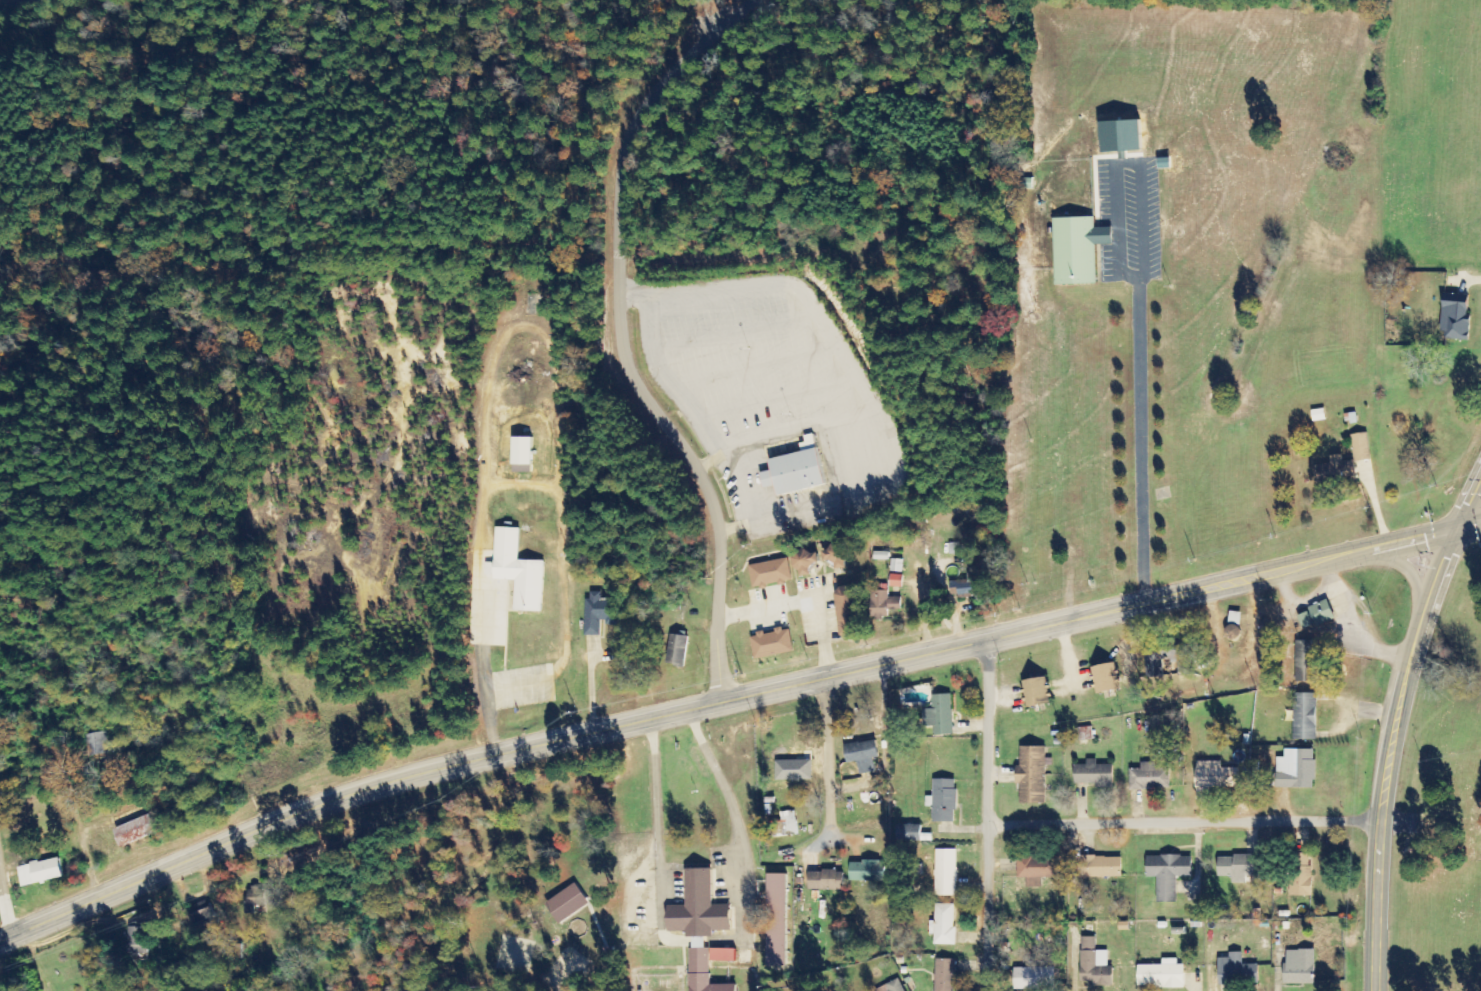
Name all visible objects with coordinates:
building: (1122, 137)
road: (1120, 163)
building: (1077, 250)
building: (1455, 317)
road: (622, 340)
building: (1319, 415)
road: (1140, 440)
building: (1361, 447)
building: (522, 451)
building: (795, 470)
building: (1335, 471)
road: (1469, 506)
traffic signals: (1458, 529)
building: (957, 548)
building: (836, 555)
building: (881, 556)
building: (805, 563)
road: (1395, 563)
building: (896, 566)
building: (516, 571)
building: (769, 573)
building: (896, 581)
building: (966, 589)
building: (884, 605)
building: (848, 613)
building: (599, 614)
building: (1315, 615)
building: (772, 644)
building: (677, 650)
road: (740, 656)
building: (1305, 661)
building: (1105, 679)
building: (1036, 693)
road: (730, 698)
building: (940, 715)
building: (1304, 717)
building: (97, 744)
road: (34, 746)
road: (1389, 754)
building: (863, 756)
building: (794, 770)
building: (1296, 770)
building: (1093, 774)
building: (1032, 775)
building: (1216, 776)
building: (1149, 777)
building: (944, 801)
road: (803, 809)
road: (995, 815)
road: (1189, 817)
building: (785, 825)
road: (810, 826)
building: (135, 831)
building: (912, 833)
building: (1101, 867)
building: (1238, 867)
road: (19, 869)
building: (1037, 871)
building: (39, 872)
building: (867, 872)
building: (946, 873)
building: (1168, 875)
building: (1301, 875)
building: (825, 881)
building: (261, 899)
building: (566, 904)
building: (698, 908)
building: (201, 912)
building: (777, 920)
building: (944, 925)
building: (722, 955)
building: (1094, 964)
building: (1299, 967)
building: (1236, 971)
building: (703, 972)
building: (944, 975)
building: (1161, 975)
building: (1033, 978)
building: (892, 987)

